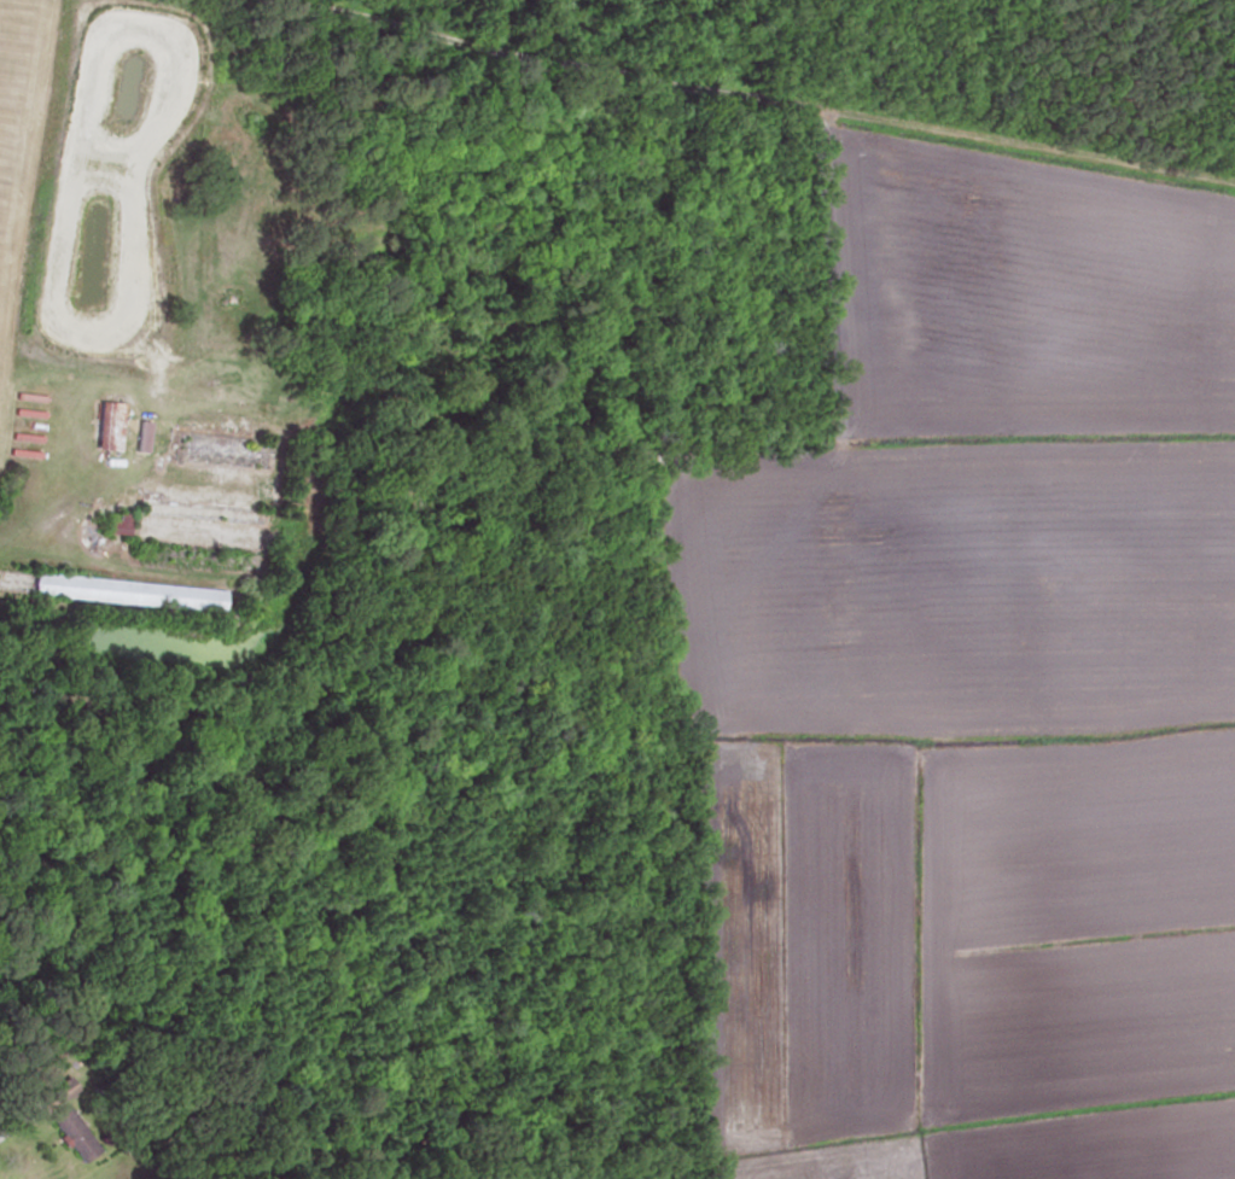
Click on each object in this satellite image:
building: (106, 444)
building: (220, 449)
building: (200, 512)
building: (113, 525)
building: (116, 593)
building: (54, 1093)
road: (12, 1127)
building: (72, 1134)

